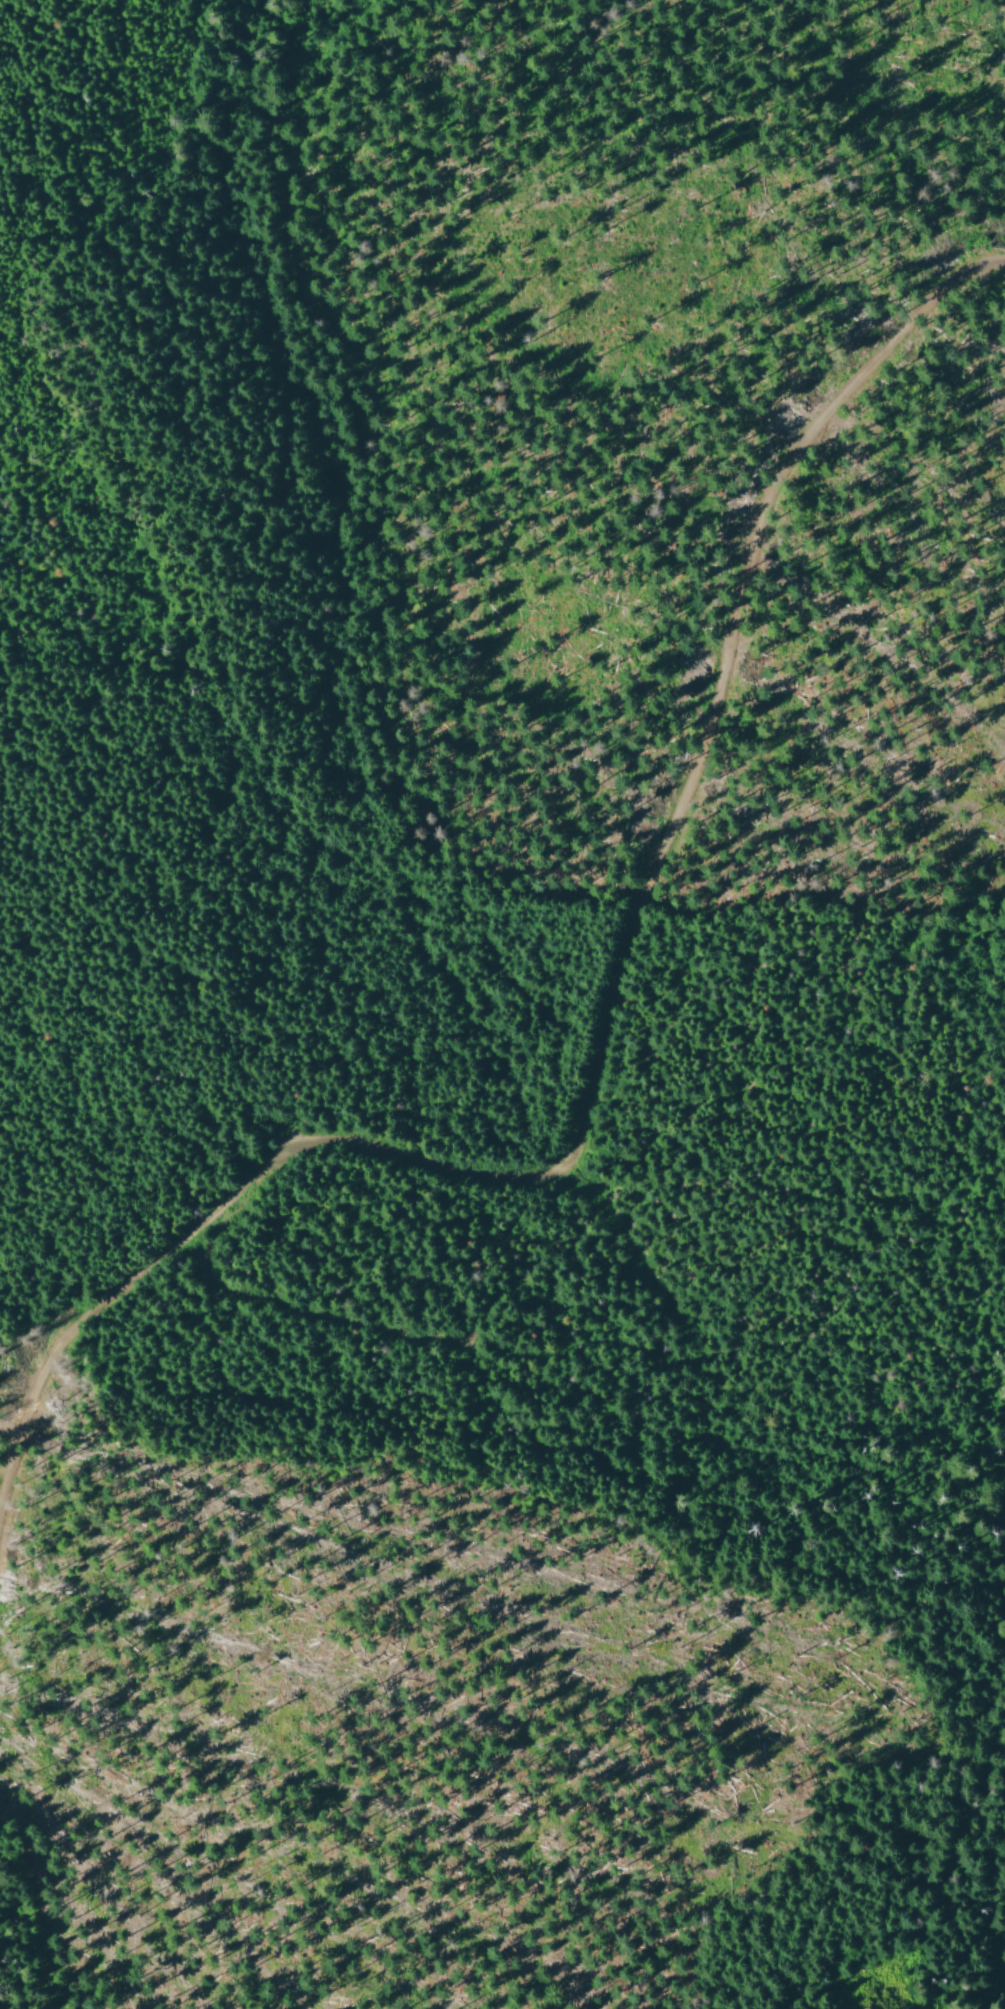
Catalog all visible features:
road: (598, 1031)
road: (284, 1305)
road: (480, 1730)
road: (28, 1962)

